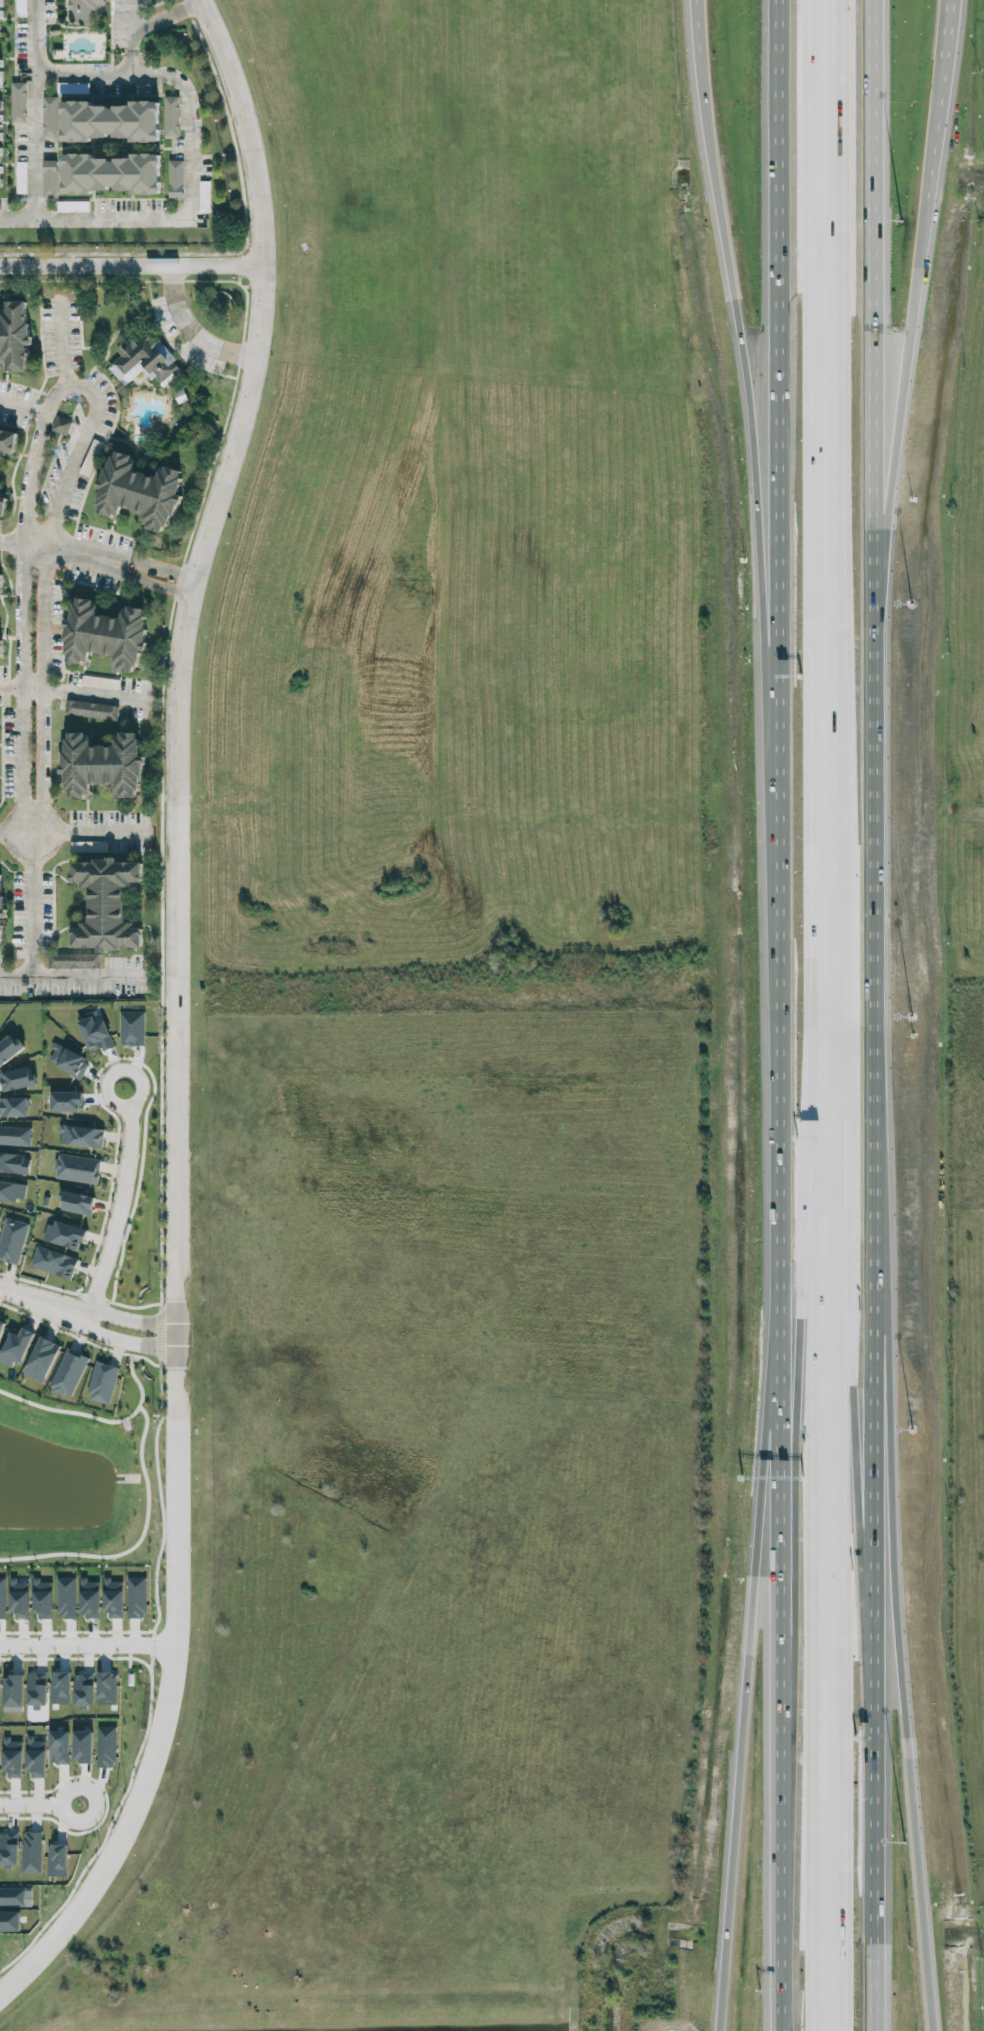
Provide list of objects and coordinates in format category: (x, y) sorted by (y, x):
building: (20, 8)
building: (84, 10)
road: (696, 16)
road: (164, 17)
road: (129, 25)
road: (951, 29)
building: (1, 34)
road: (129, 62)
road: (173, 80)
building: (18, 102)
road: (32, 109)
building: (49, 116)
building: (171, 116)
building: (113, 119)
building: (2, 145)
road: (936, 154)
building: (113, 171)
building: (21, 177)
building: (175, 178)
building: (49, 179)
building: (203, 196)
building: (72, 206)
road: (95, 218)
road: (132, 264)
road: (875, 278)
road: (190, 329)
building: (16, 334)
road: (779, 336)
road: (61, 342)
road: (743, 351)
building: (144, 360)
road: (901, 403)
road: (22, 405)
building: (61, 425)
building: (9, 440)
road: (80, 444)
building: (90, 457)
building: (138, 492)
building: (4, 502)
road: (65, 549)
road: (160, 577)
building: (2, 584)
building: (108, 634)
building: (2, 647)
road: (810, 651)
building: (99, 682)
road: (21, 685)
road: (96, 693)
building: (90, 709)
building: (104, 765)
road: (76, 832)
building: (90, 846)
building: (109, 905)
building: (2, 909)
road: (873, 928)
building: (73, 960)
road: (74, 976)
road: (176, 1013)
road: (833, 1015)
building: (131, 1028)
building: (95, 1033)
road: (777, 1043)
building: (9, 1048)
building: (67, 1060)
building: (16, 1079)
building: (66, 1101)
building: (13, 1106)
building: (14, 1135)
building: (80, 1136)
building: (14, 1163)
building: (76, 1168)
building: (12, 1191)
building: (76, 1202)
road: (119, 1203)
building: (64, 1234)
building: (12, 1240)
building: (53, 1262)
road: (43, 1302)
road: (130, 1319)
building: (1, 1324)
road: (126, 1341)
building: (14, 1347)
building: (41, 1359)
road: (144, 1359)
road: (792, 1363)
building: (67, 1372)
building: (101, 1382)
road: (847, 1387)
road: (103, 1419)
road: (871, 1527)
road: (136, 1542)
building: (65, 1597)
building: (135, 1597)
building: (2, 1598)
building: (41, 1598)
building: (89, 1598)
building: (112, 1598)
building: (19, 1599)
road: (88, 1645)
road: (897, 1665)
road: (813, 1666)
road: (149, 1678)
building: (59, 1687)
building: (106, 1688)
building: (36, 1689)
building: (82, 1689)
building: (12, 1690)
road: (743, 1722)
road: (778, 1723)
building: (82, 1746)
building: (105, 1746)
building: (58, 1747)
building: (35, 1757)
building: (12, 1758)
building: (69, 1769)
building: (89, 1769)
building: (102, 1770)
road: (38, 1813)
building: (8, 1848)
building: (31, 1852)
building: (56, 1860)
road: (872, 1893)
building: (12, 1895)
building: (9, 1921)

